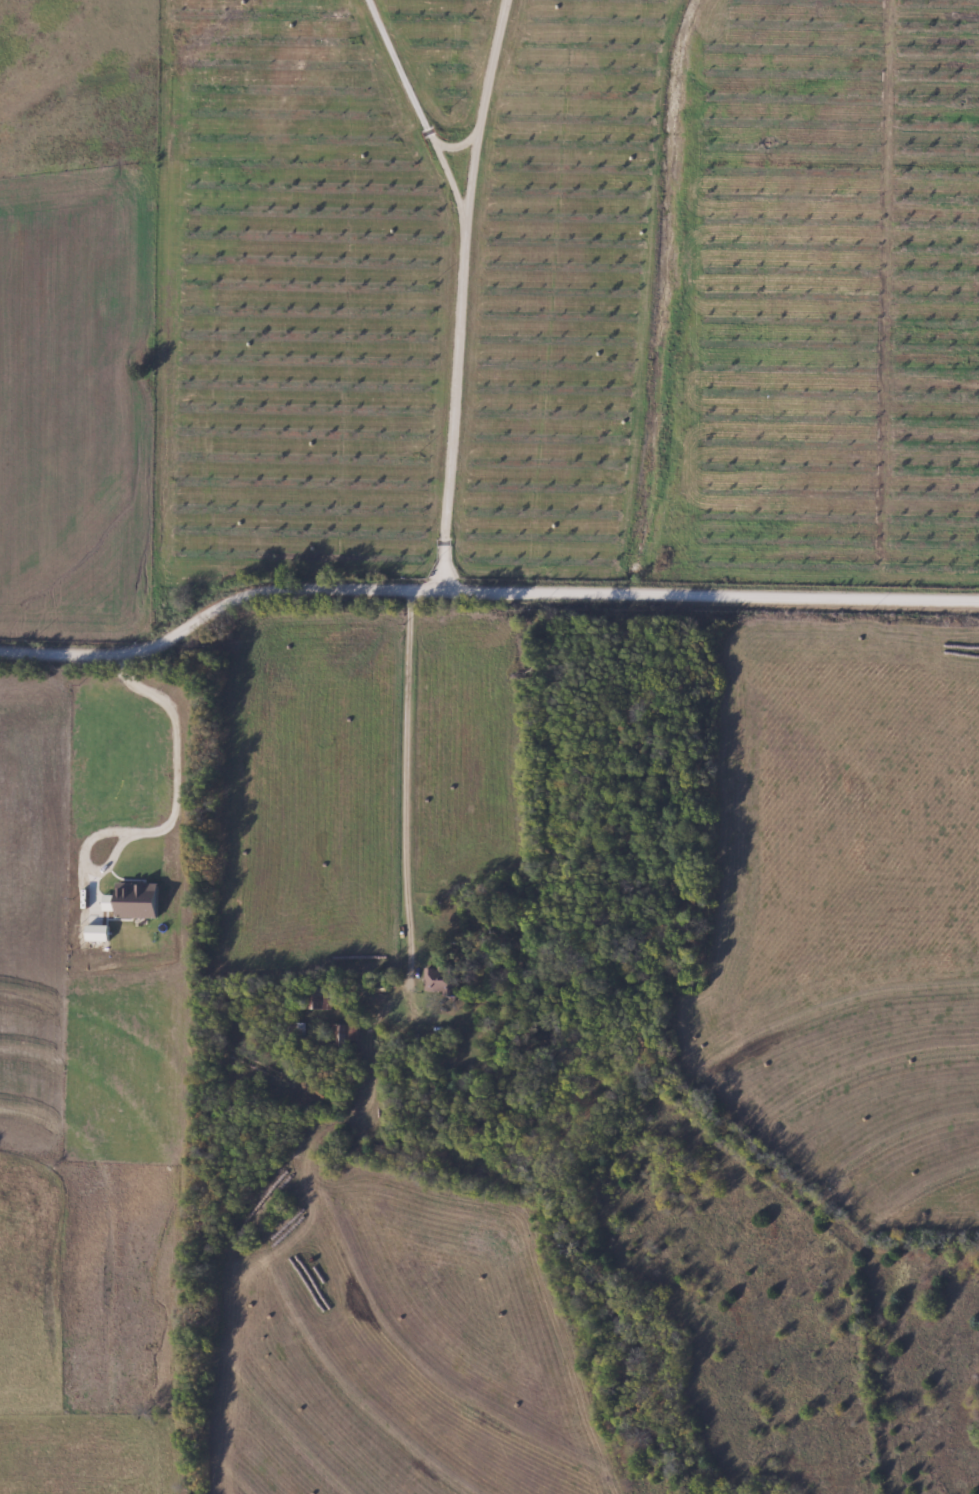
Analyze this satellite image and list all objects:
road: (416, 112)
road: (459, 293)
road: (482, 590)
road: (391, 810)
road: (170, 819)
building: (439, 980)

